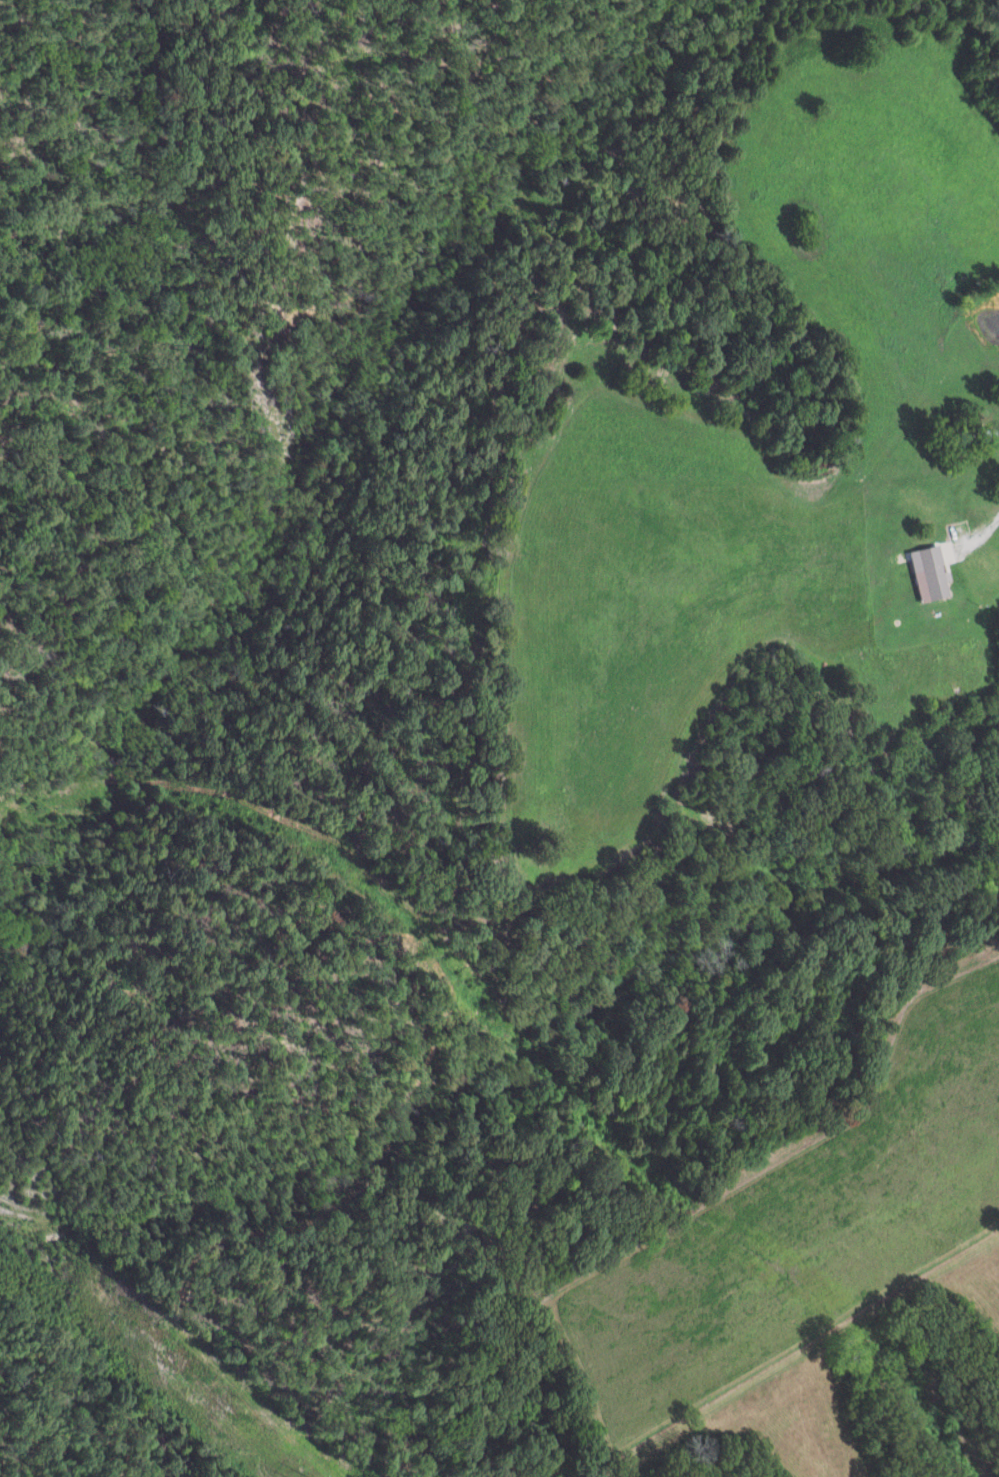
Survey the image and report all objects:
road: (958, 494)
building: (931, 573)

